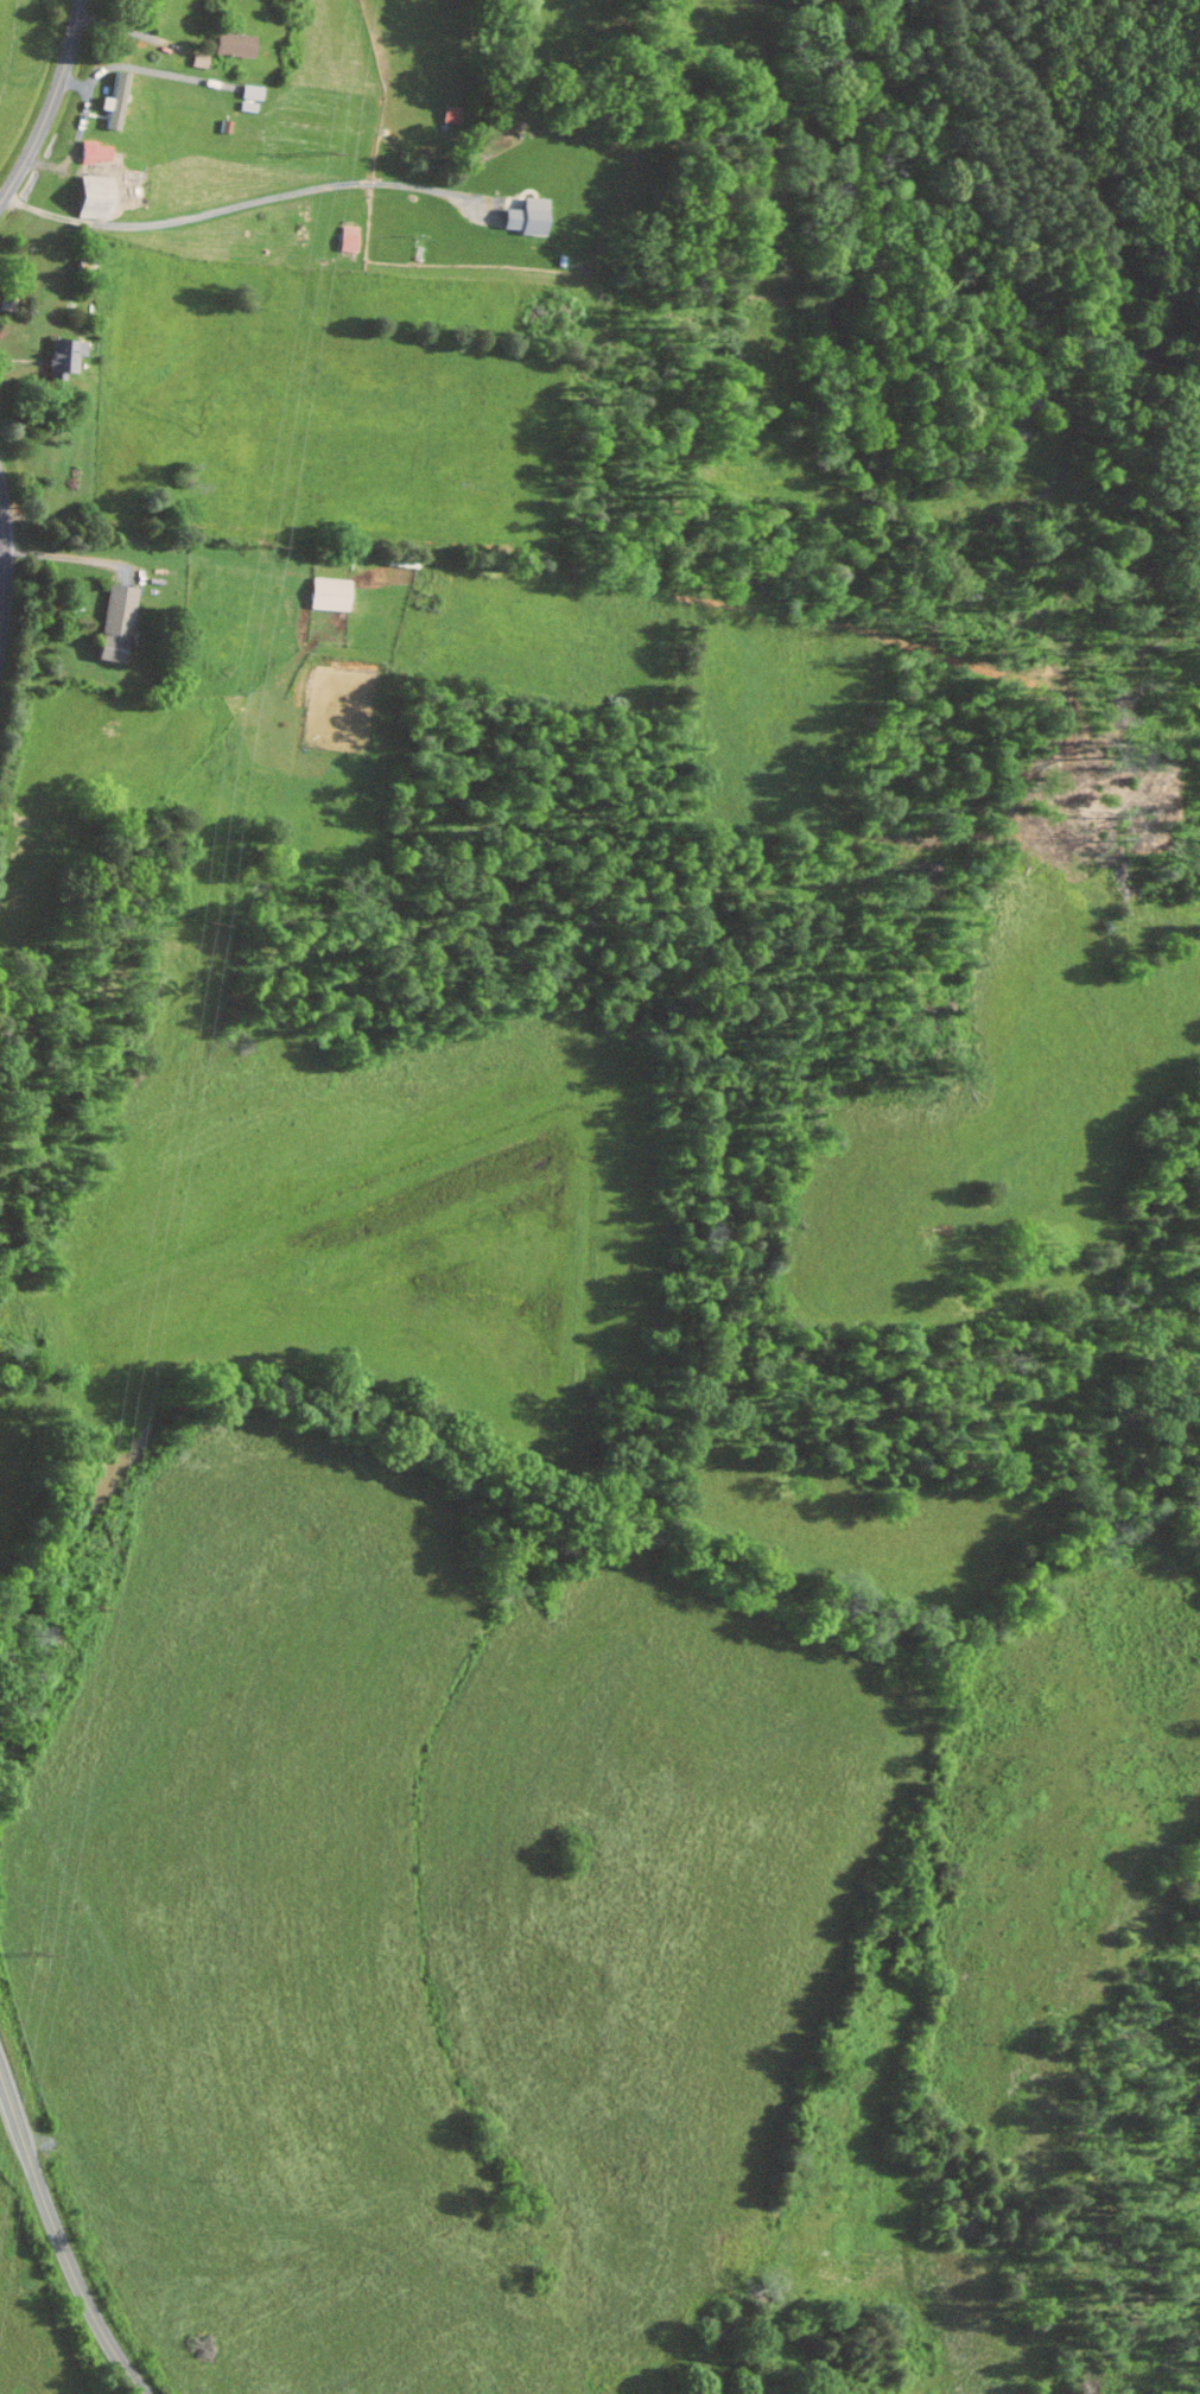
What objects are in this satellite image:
building: (230, 44)
building: (112, 101)
road: (50, 104)
road: (78, 134)
building: (90, 152)
power tower: (331, 153)
building: (89, 196)
building: (522, 216)
building: (345, 237)
building: (61, 357)
power tower: (261, 545)
road: (69, 558)
road: (4, 564)
building: (326, 593)
building: (112, 623)
power tower: (203, 923)
power tower: (95, 1605)
power tower: (42, 1955)
road: (59, 2240)

